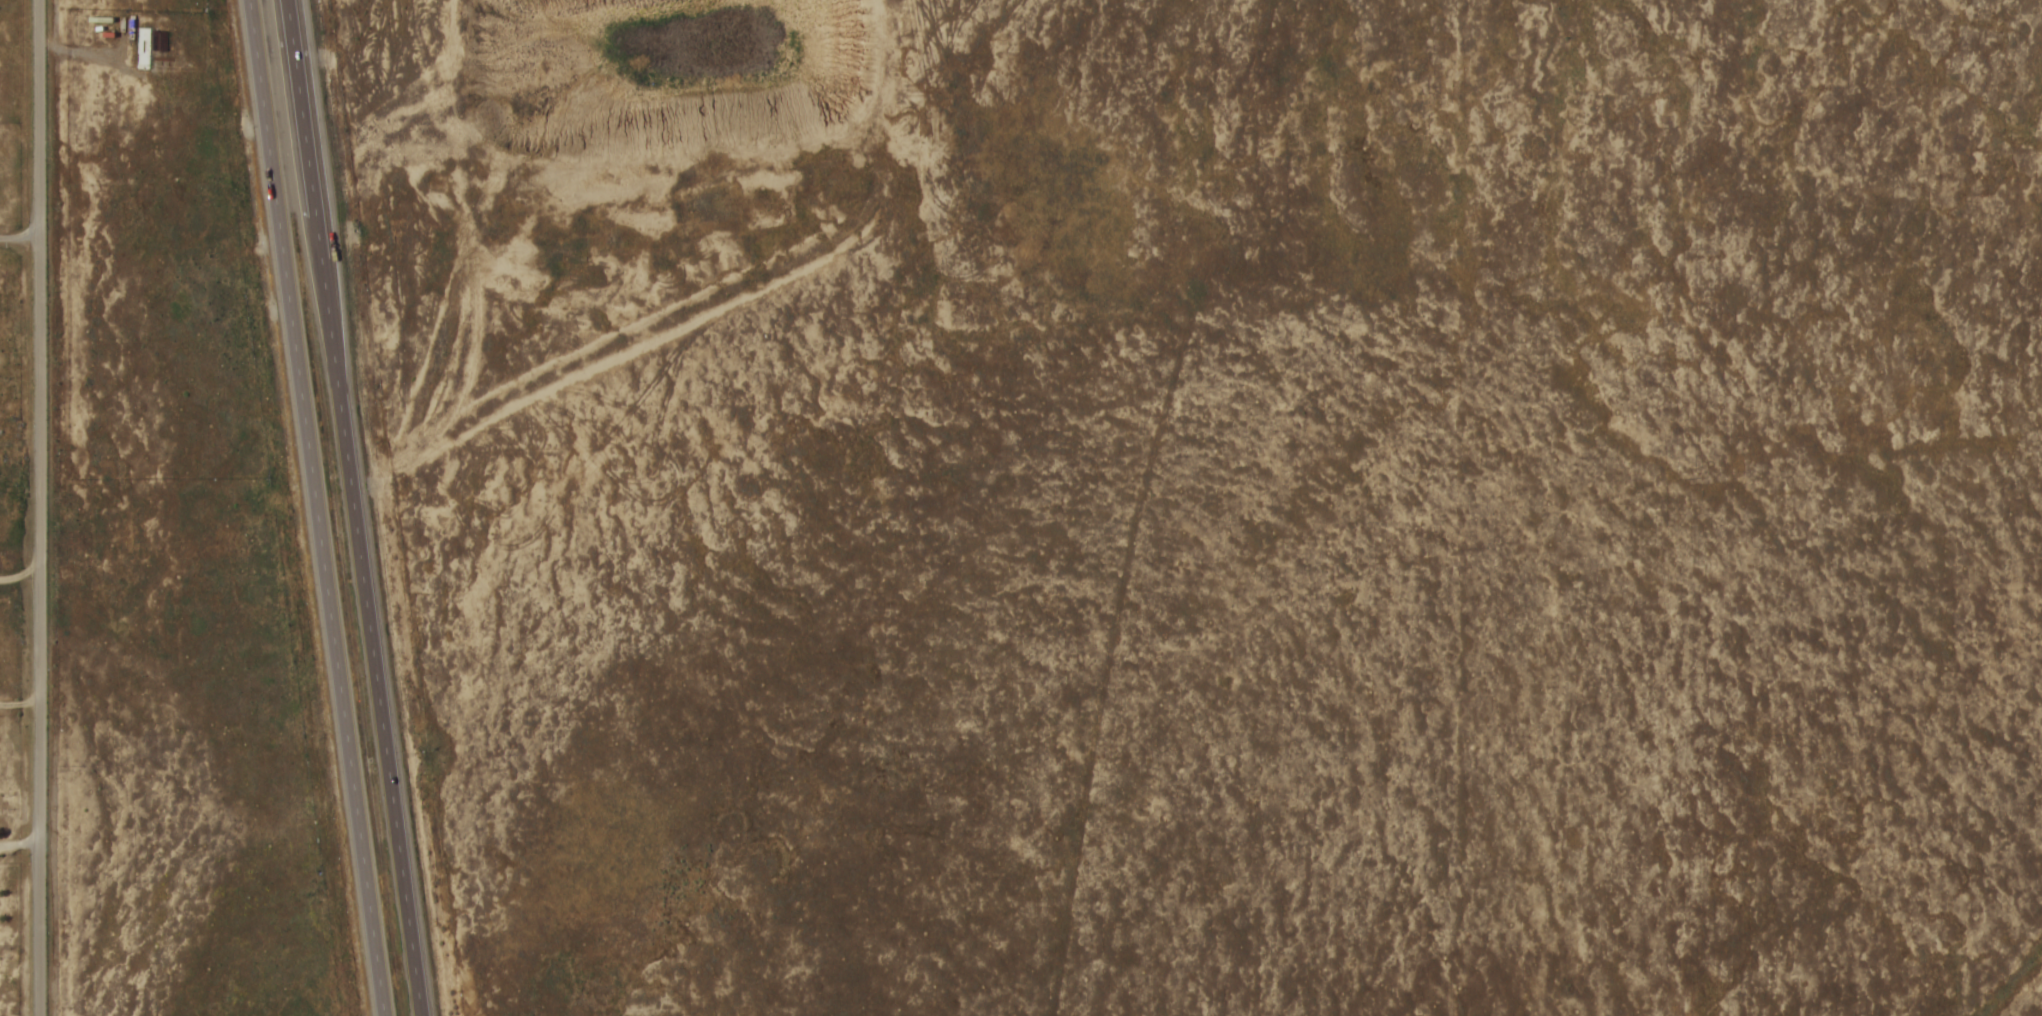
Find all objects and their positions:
road: (42, 508)
road: (313, 508)
road: (357, 508)

